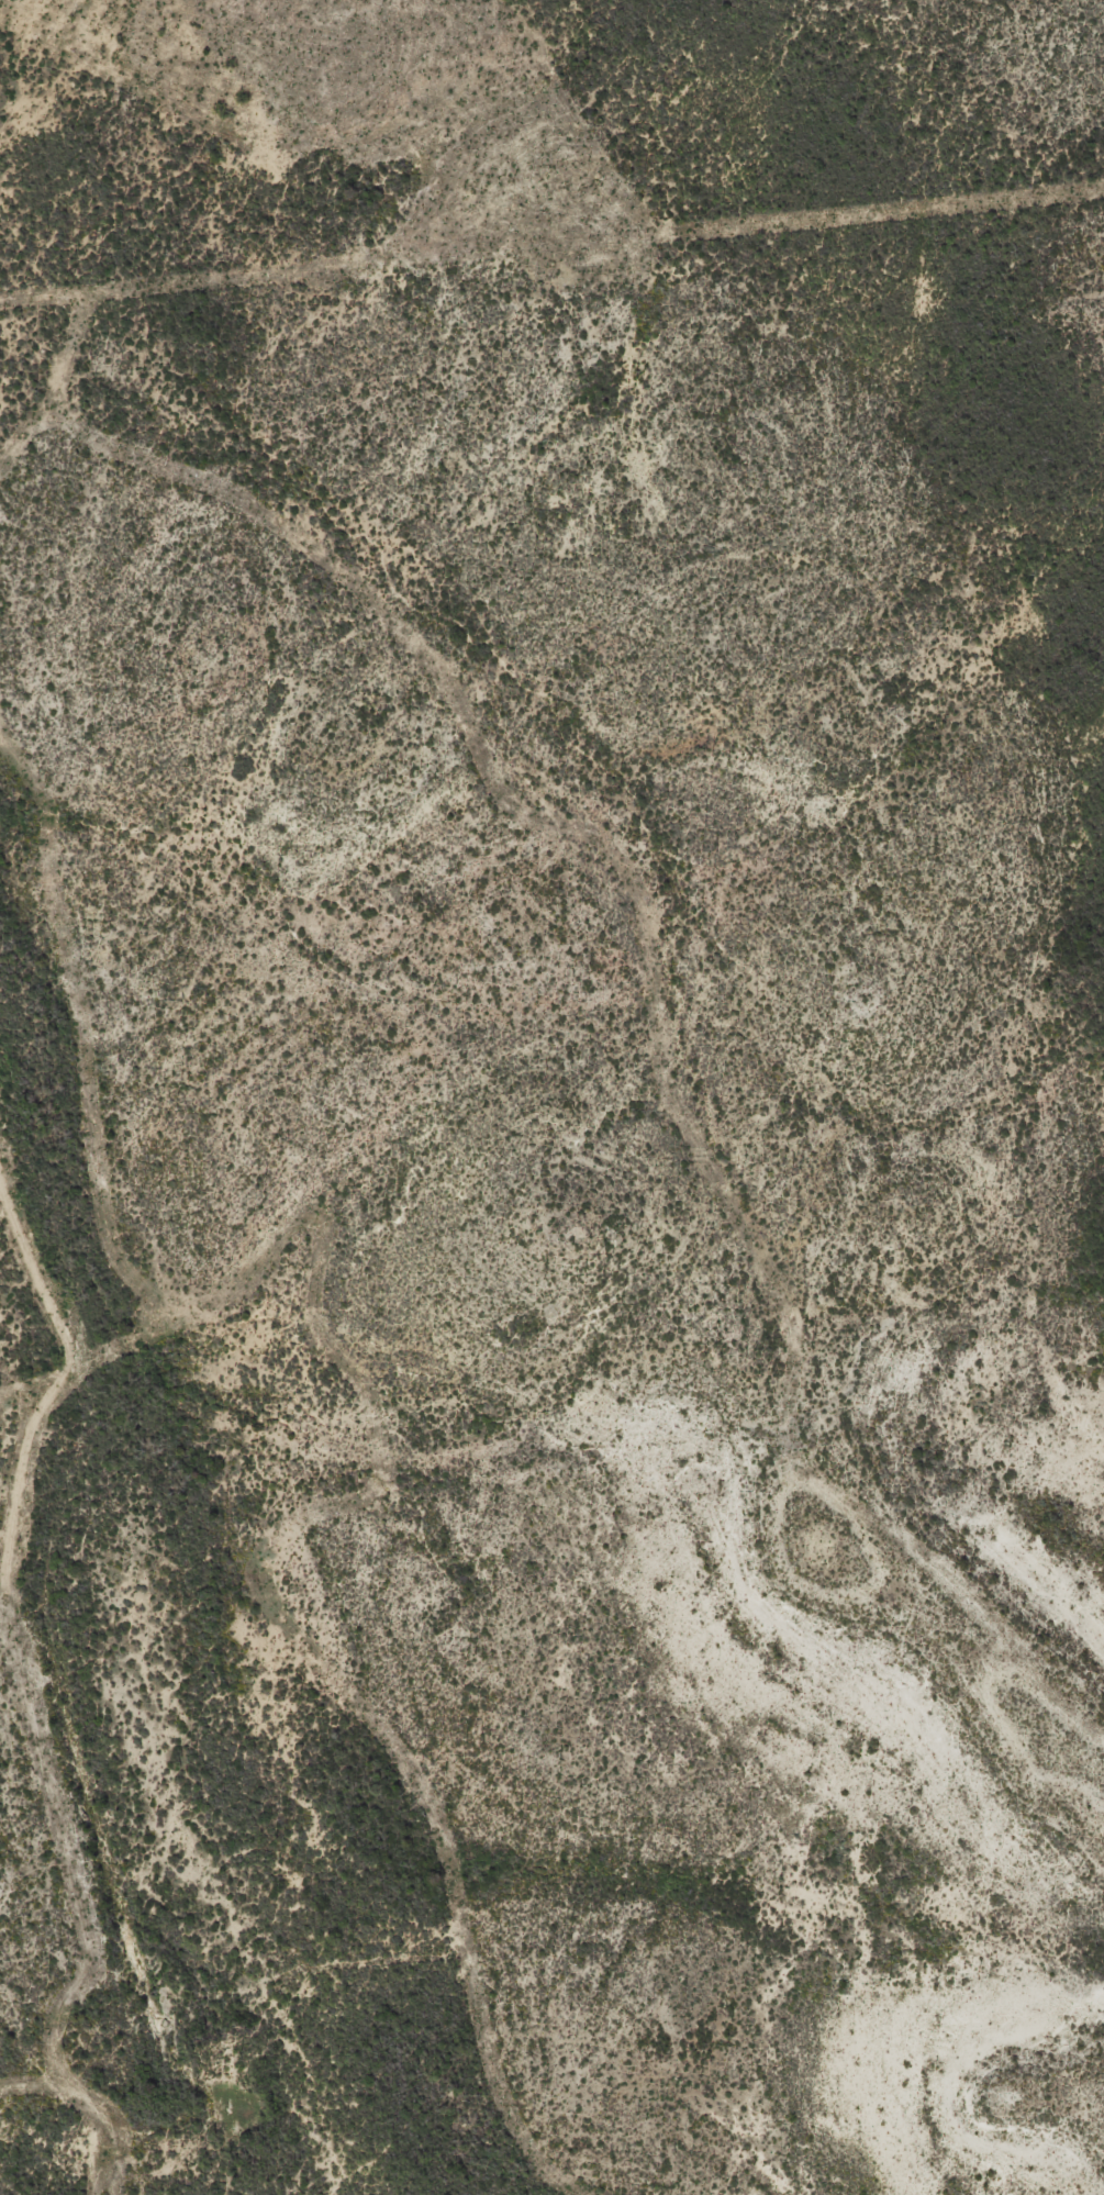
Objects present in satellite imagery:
road: (86, 2095)

